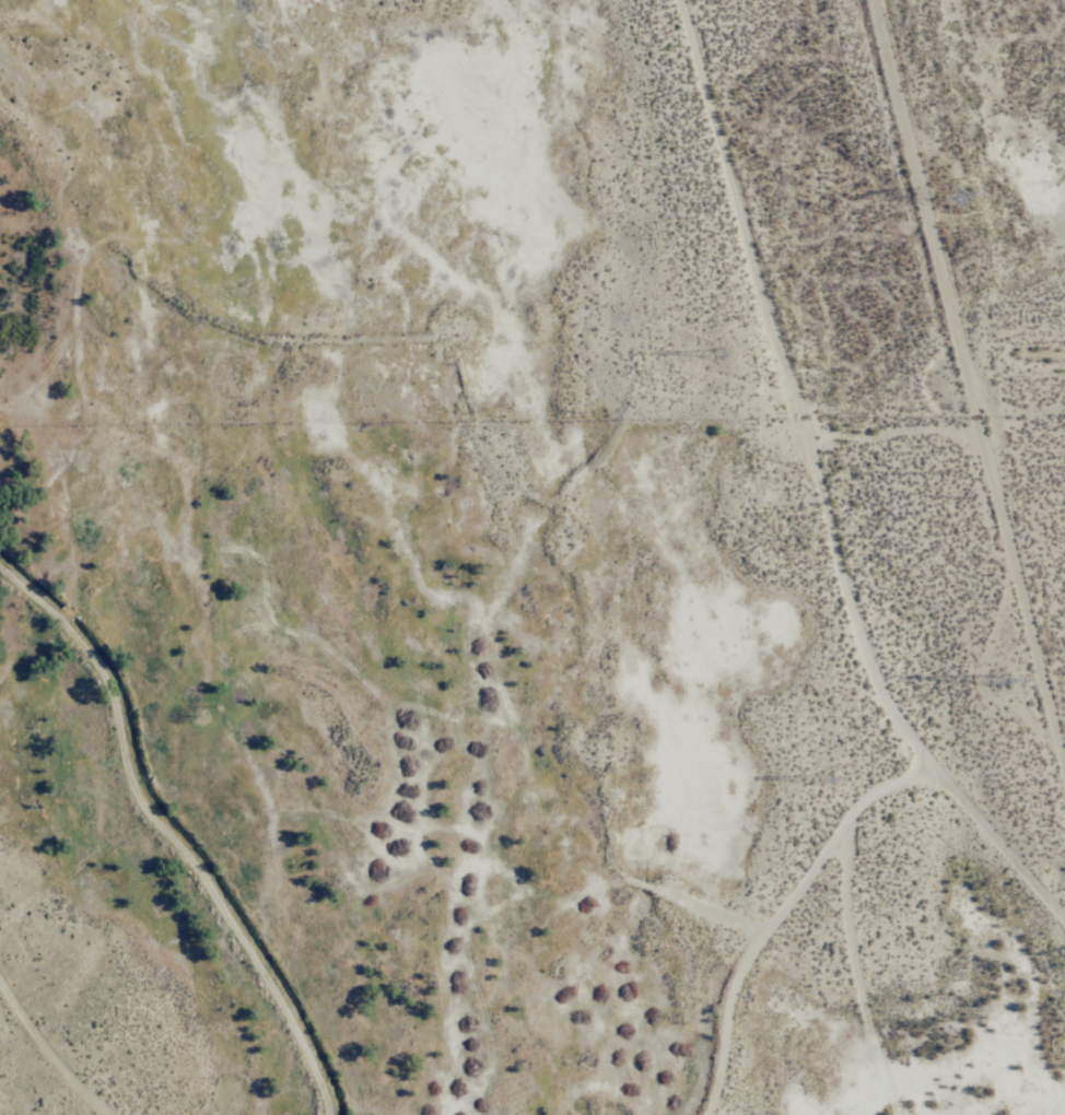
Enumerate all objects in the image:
power tower: (956, 193)
power tower: (716, 360)
road: (970, 366)
road: (819, 488)
power tower: (998, 686)
power tower: (822, 775)
road: (169, 833)
road: (781, 917)
road: (866, 982)
road: (49, 1049)

